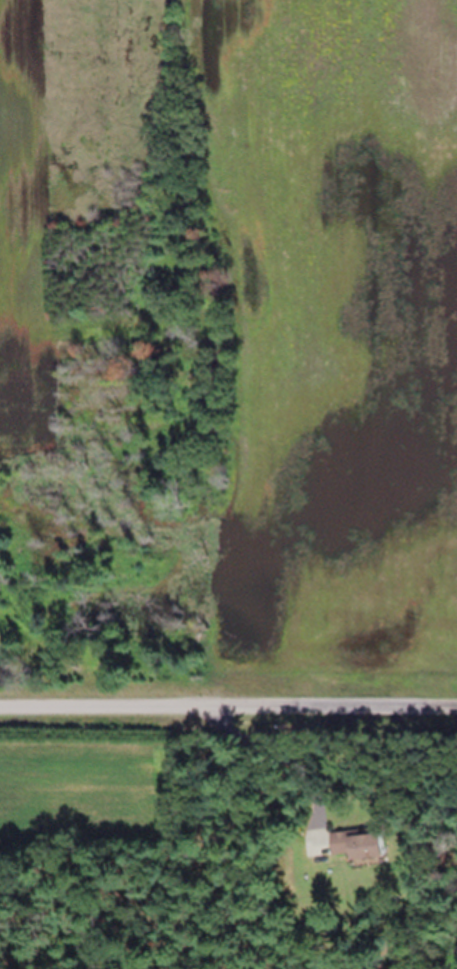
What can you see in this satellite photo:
road: (228, 709)
building: (359, 844)

